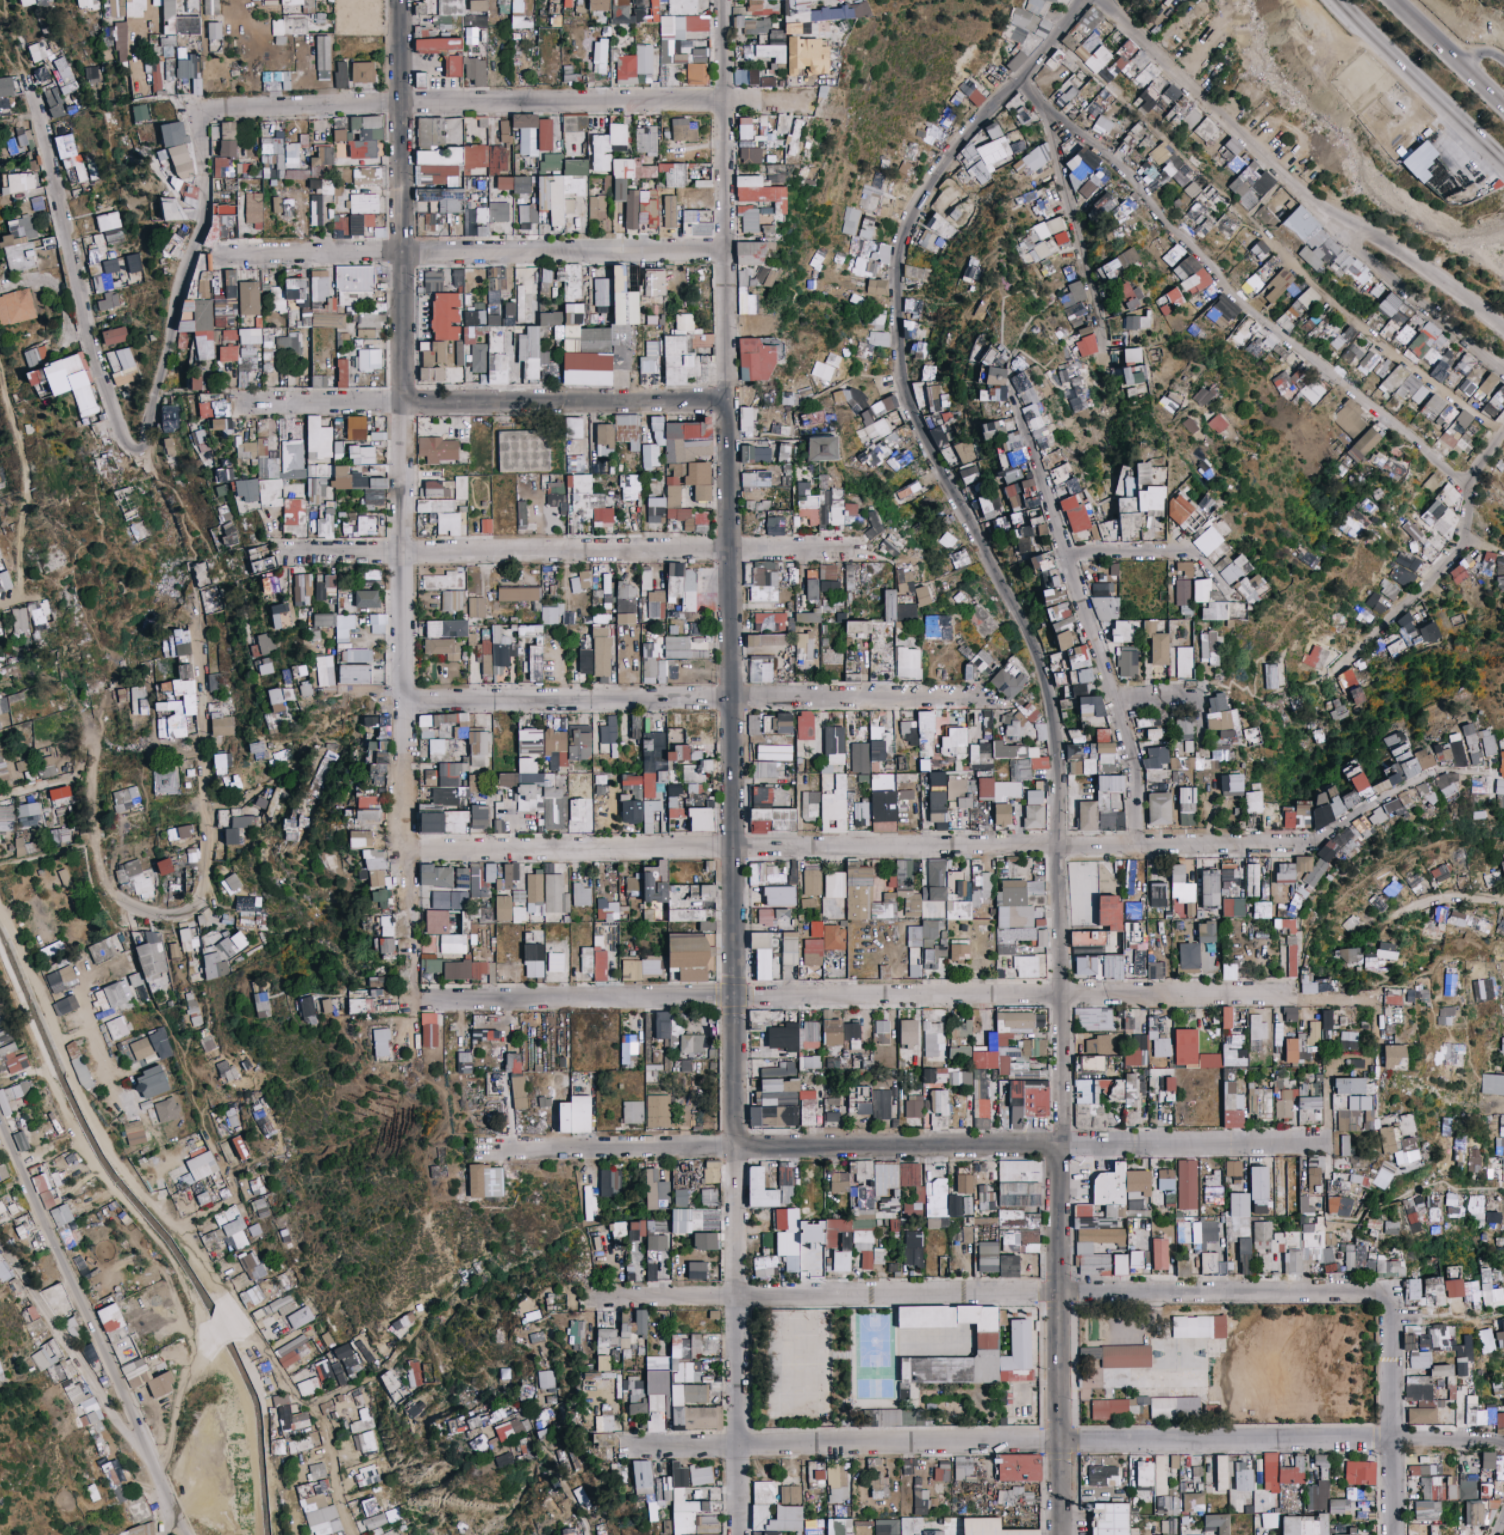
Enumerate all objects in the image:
park: (873, 1338)
park: (1183, 1354)
park: (796, 1360)
park: (839, 1378)
park: (1296, 1379)
park: (874, 1381)
park: (960, 1400)
parking lot: (1025, 1401)

